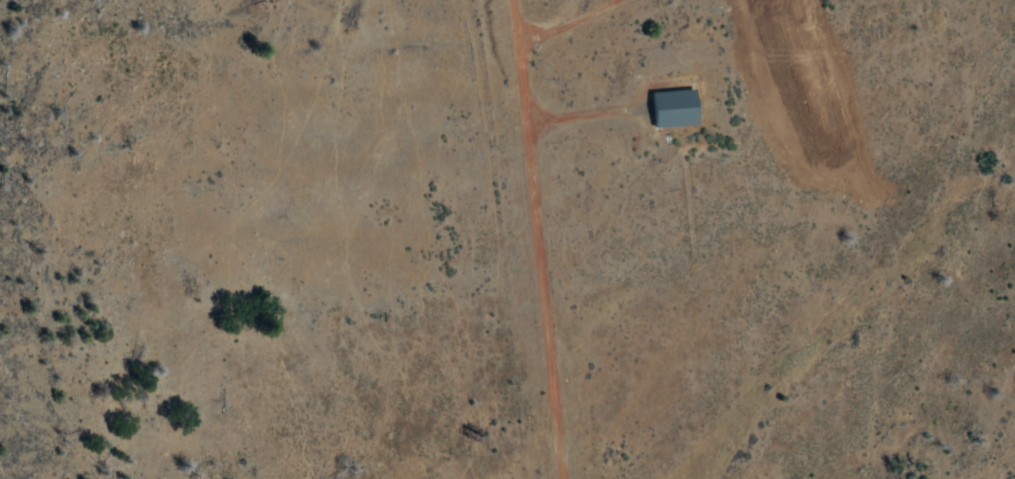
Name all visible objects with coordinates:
road: (538, 239)

